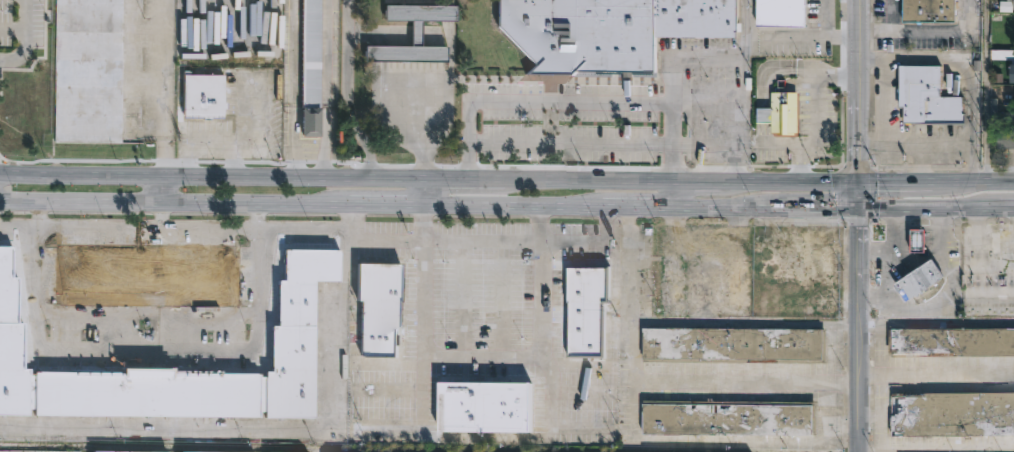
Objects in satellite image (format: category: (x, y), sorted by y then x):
building: (1006, 5)
building: (931, 10)
building: (779, 12)
building: (420, 14)
road: (890, 16)
parking lot: (24, 22)
building: (608, 30)
road: (13, 31)
road: (943, 31)
road: (876, 32)
road: (379, 34)
road: (415, 35)
road: (824, 35)
road: (428, 36)
road: (27, 40)
road: (394, 41)
road: (861, 43)
building: (407, 52)
road: (394, 55)
road: (428, 55)
road: (698, 63)
road: (969, 66)
building: (311, 68)
building: (89, 71)
building: (1012, 72)
road: (750, 78)
road: (152, 89)
road: (986, 91)
road: (347, 92)
building: (202, 96)
building: (926, 96)
road: (570, 103)
road: (394, 112)
building: (782, 113)
road: (817, 115)
road: (426, 121)
road: (859, 134)
building: (1006, 139)
road: (571, 144)
road: (722, 145)
traffic signals: (859, 163)
road: (942, 168)
road: (212, 178)
road: (482, 180)
road: (610, 181)
road: (715, 182)
road: (803, 182)
traffic signals: (878, 182)
road: (922, 182)
road: (1000, 182)
road: (164, 191)
road: (426, 194)
road: (682, 195)
road: (858, 195)
road: (212, 205)
road: (984, 207)
road: (497, 208)
road: (625, 208)
road: (700, 208)
road: (788, 208)
road: (907, 208)
traffic signals: (836, 209)
road: (164, 217)
road: (872, 218)
road: (354, 222)
road: (425, 224)
road: (540, 225)
road: (611, 225)
road: (19, 228)
road: (149, 229)
traffic signals: (860, 229)
road: (433, 240)
road: (695, 240)
road: (991, 240)
building: (794, 245)
road: (894, 247)
road: (915, 256)
road: (993, 264)
road: (860, 265)
building: (146, 273)
building: (737, 281)
building: (920, 282)
building: (485, 285)
building: (673, 285)
building: (989, 296)
road: (990, 296)
road: (947, 297)
building: (797, 300)
building: (382, 306)
building: (587, 309)
road: (145, 313)
road: (733, 322)
road: (937, 322)
road: (846, 323)
building: (292, 331)
road: (343, 333)
road: (542, 335)
building: (952, 341)
building: (736, 344)
road: (148, 351)
road: (428, 353)
road: (833, 354)
road: (938, 372)
road: (734, 382)
road: (862, 387)
building: (484, 406)
building: (952, 413)
building: (730, 418)
road: (582, 427)
road: (848, 428)
road: (280, 432)
road: (663, 441)
building: (26, 451)
building: (116, 451)

